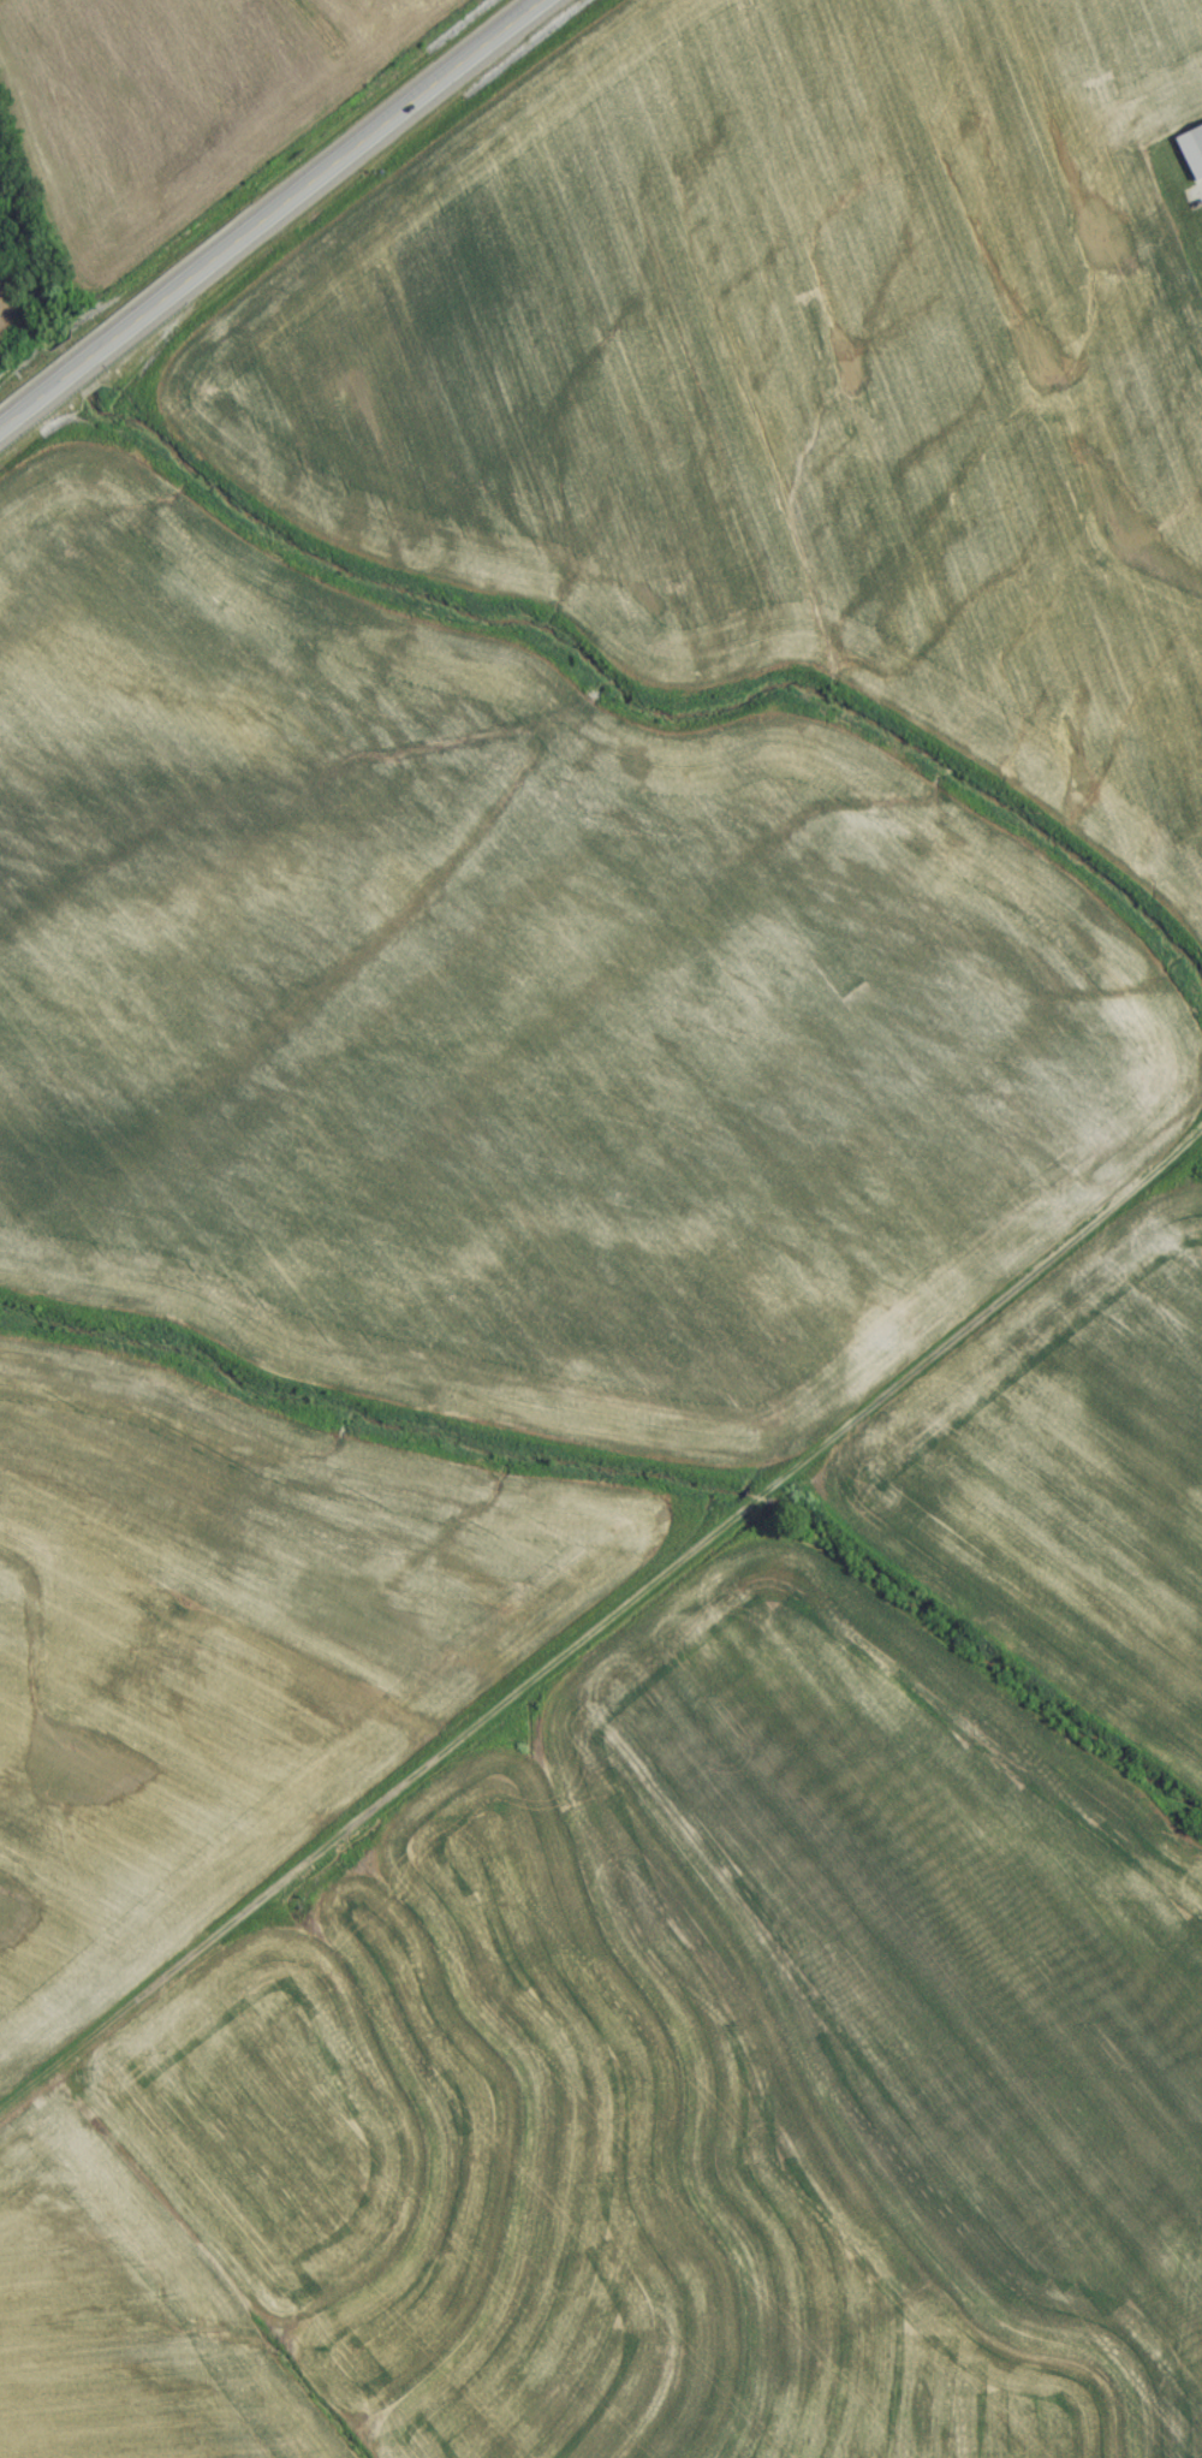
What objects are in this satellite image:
road: (269, 214)

